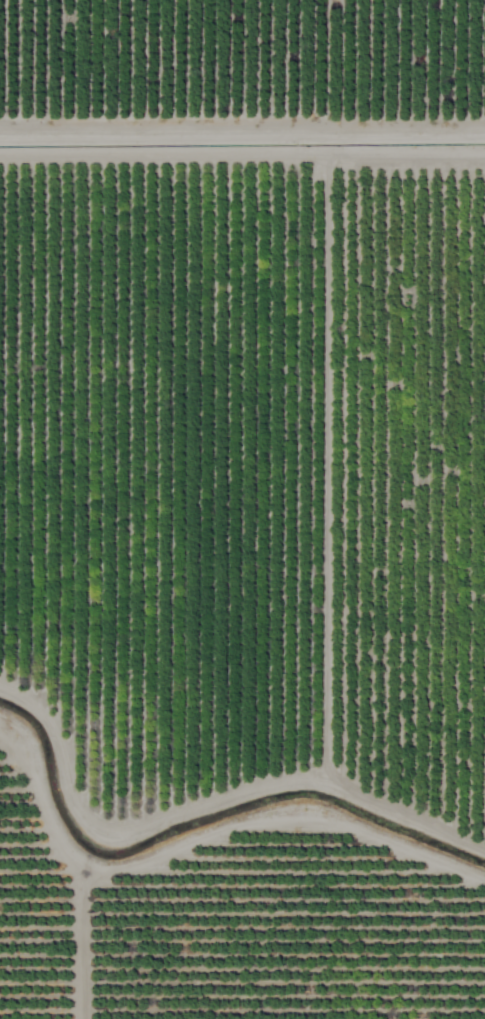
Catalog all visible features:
crop: (242, 509)
road: (224, 870)

